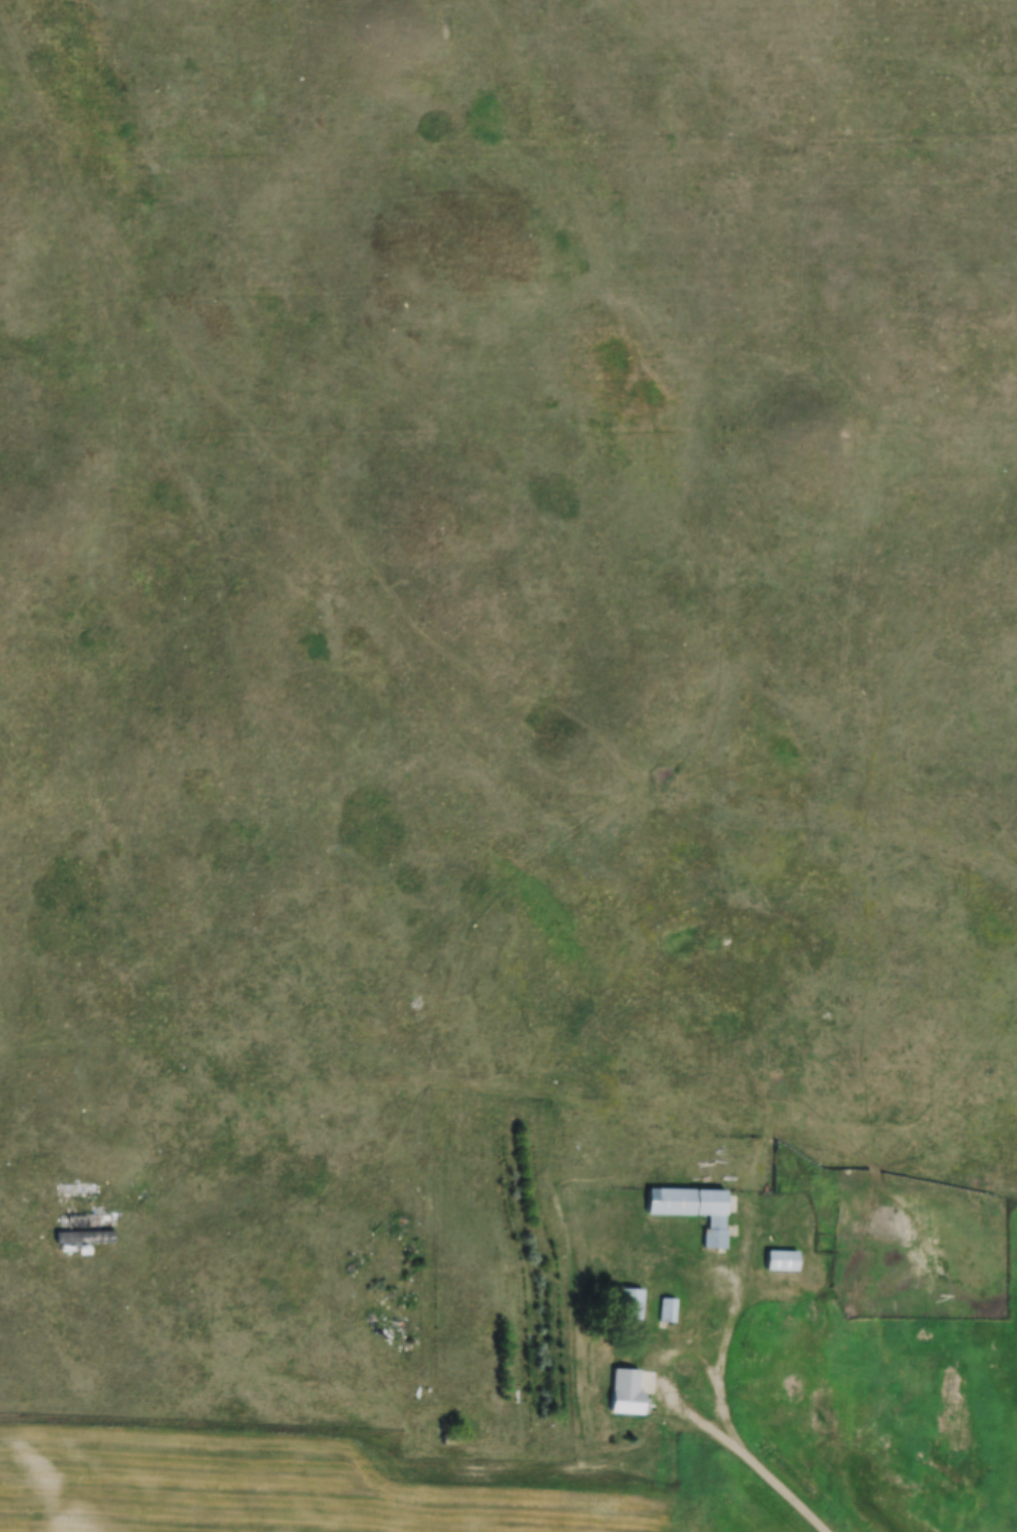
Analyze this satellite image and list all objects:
building: (844, 1189)
building: (691, 1210)
building: (780, 1261)
road: (728, 1297)
building: (628, 1305)
building: (667, 1311)
road: (669, 1359)
building: (625, 1392)
road: (348, 1456)
road: (771, 1484)

